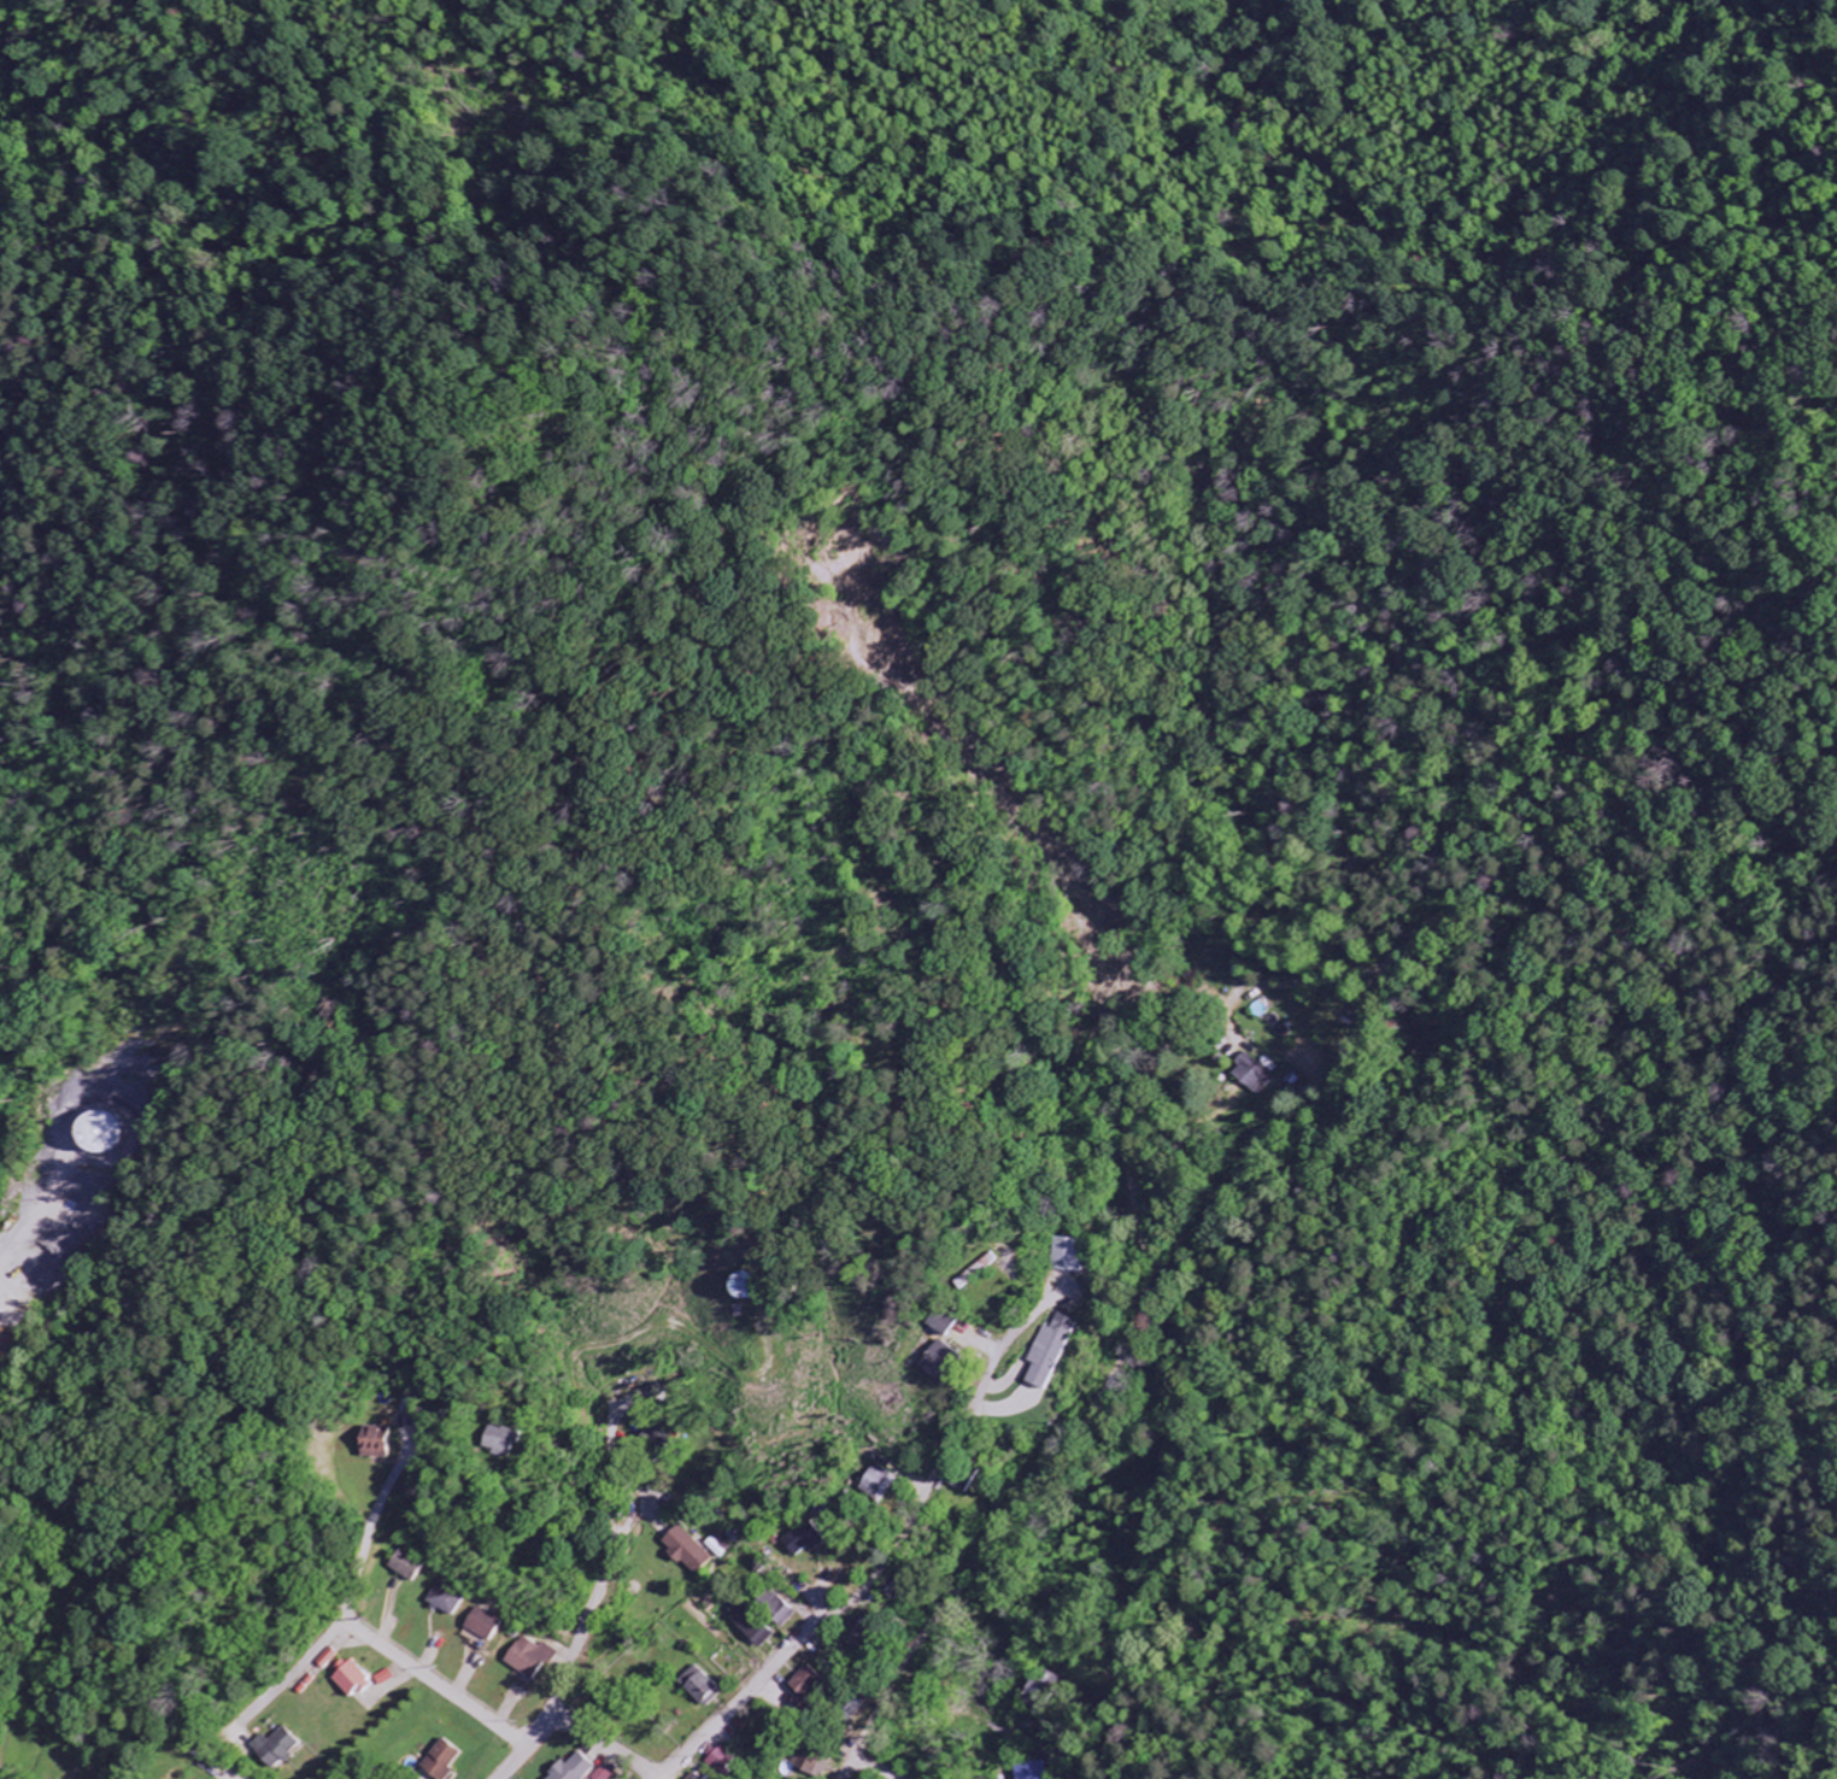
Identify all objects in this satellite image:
road: (1244, 1021)
building: (1255, 1075)
building: (1073, 1255)
building: (945, 1323)
building: (1052, 1351)
building: (939, 1362)
building: (501, 1440)
building: (375, 1443)
building: (972, 1480)
building: (882, 1484)
road: (370, 1531)
building: (806, 1539)
building: (721, 1546)
building: (687, 1551)
road: (890, 1564)
building: (410, 1566)
road: (164, 1596)
building: (451, 1598)
road: (591, 1608)
building: (779, 1608)
building: (486, 1625)
building: (752, 1625)
building: (532, 1657)
building: (329, 1658)
building: (353, 1678)
building: (809, 1683)
road: (439, 1685)
building: (700, 1687)
building: (1044, 1691)
road: (873, 1724)
road: (538, 1730)
road: (595, 1745)
building: (277, 1748)
building: (441, 1761)
building: (721, 1762)
building: (814, 1762)
road: (513, 1763)
road: (878, 1767)
building: (573, 1768)
building: (1034, 1771)
building: (694, 1777)

